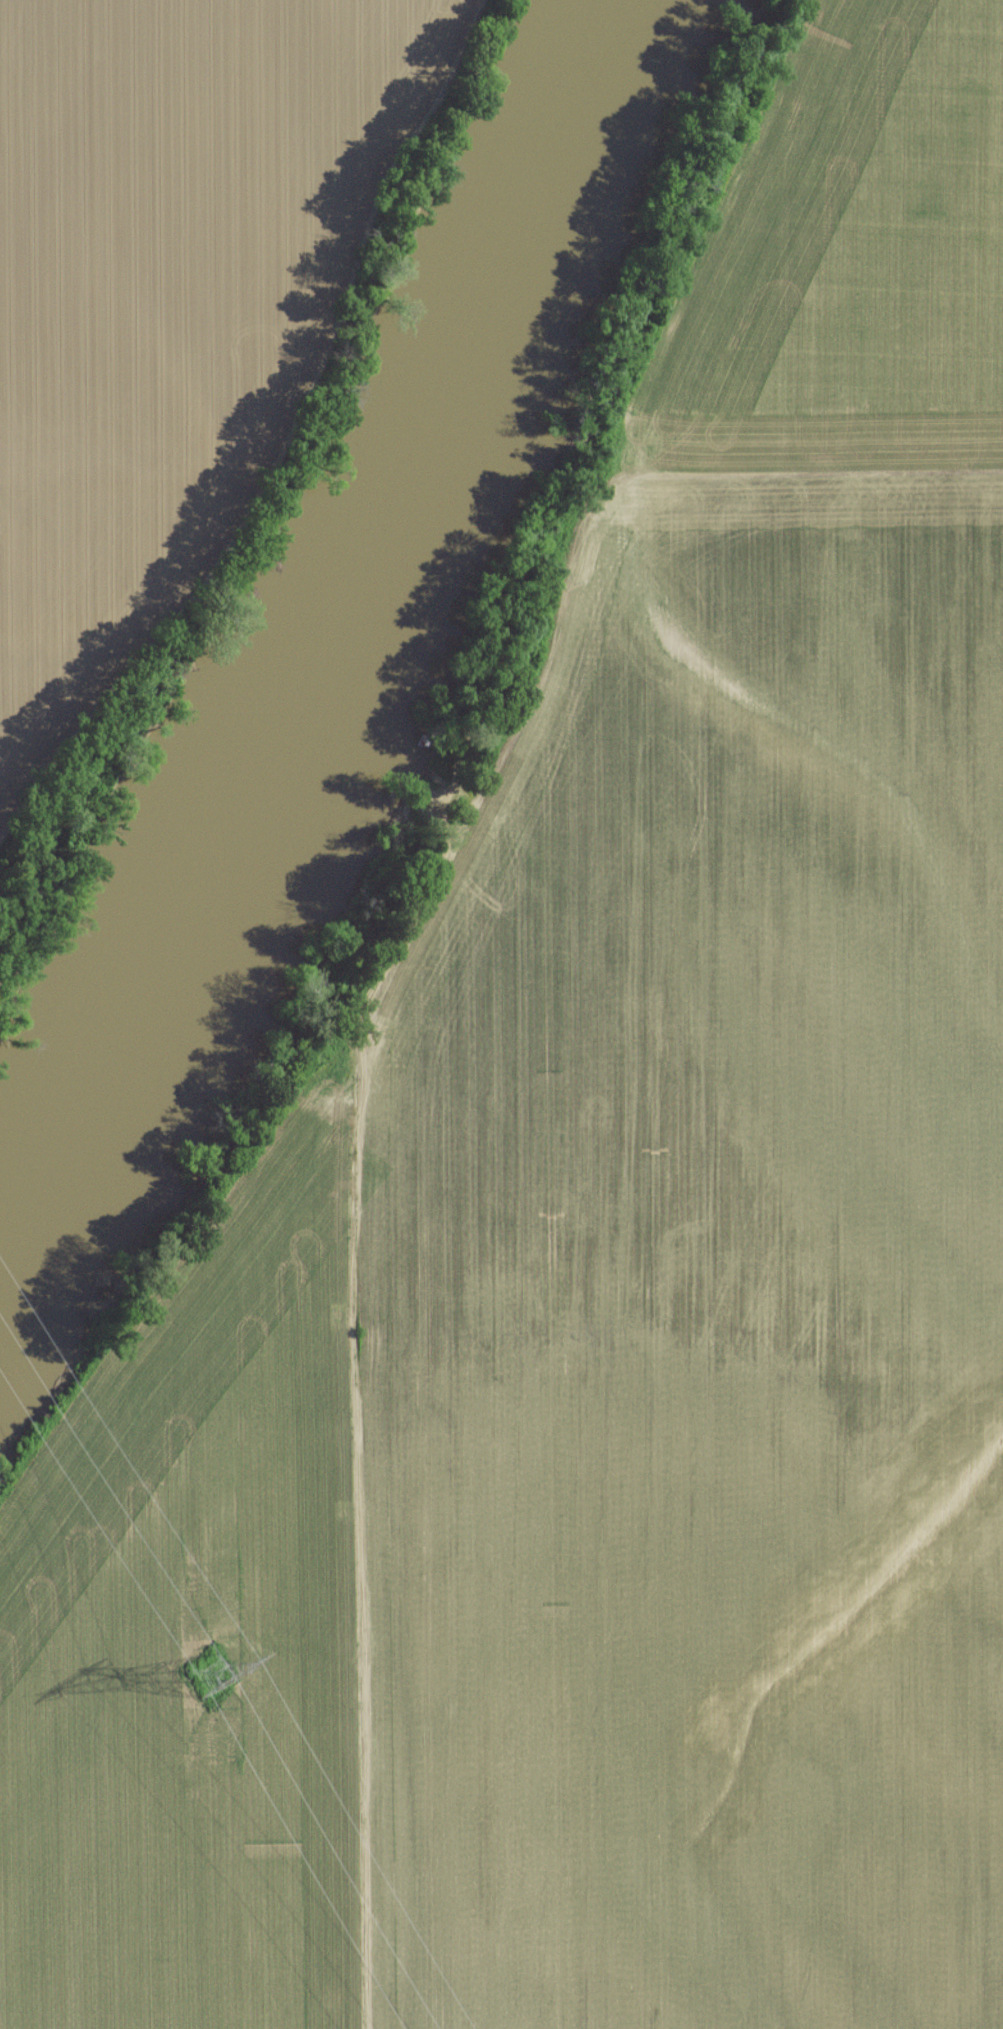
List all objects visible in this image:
road: (814, 474)
road: (586, 532)
river: (325, 640)
road: (358, 1550)
power tower: (217, 1686)

